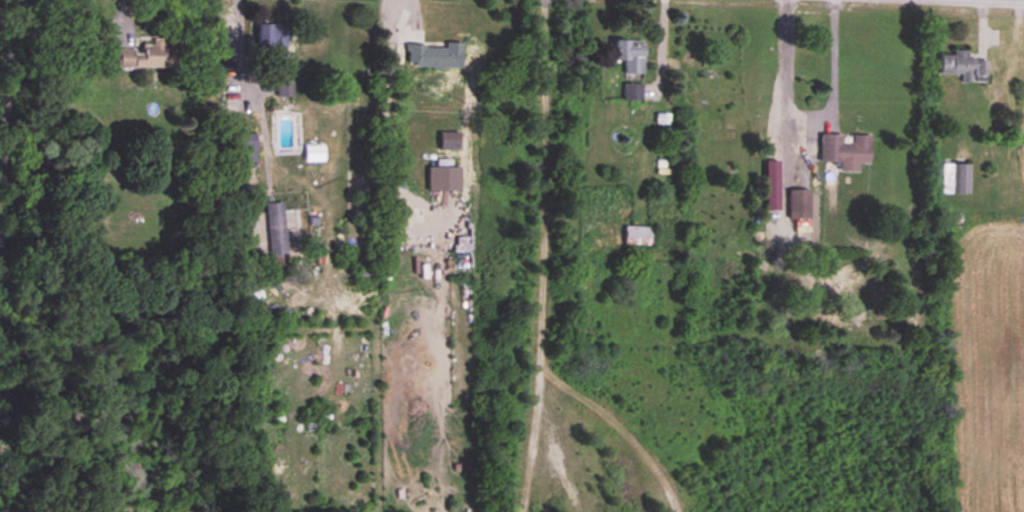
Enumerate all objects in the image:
building: (272, 37)
road: (658, 42)
building: (630, 54)
building: (436, 55)
building: (148, 56)
road: (832, 56)
building: (964, 66)
road: (783, 73)
building: (285, 88)
road: (250, 91)
building: (632, 91)
building: (450, 140)
building: (846, 150)
building: (444, 178)
building: (956, 178)
building: (800, 204)
building: (276, 233)
building: (639, 235)

